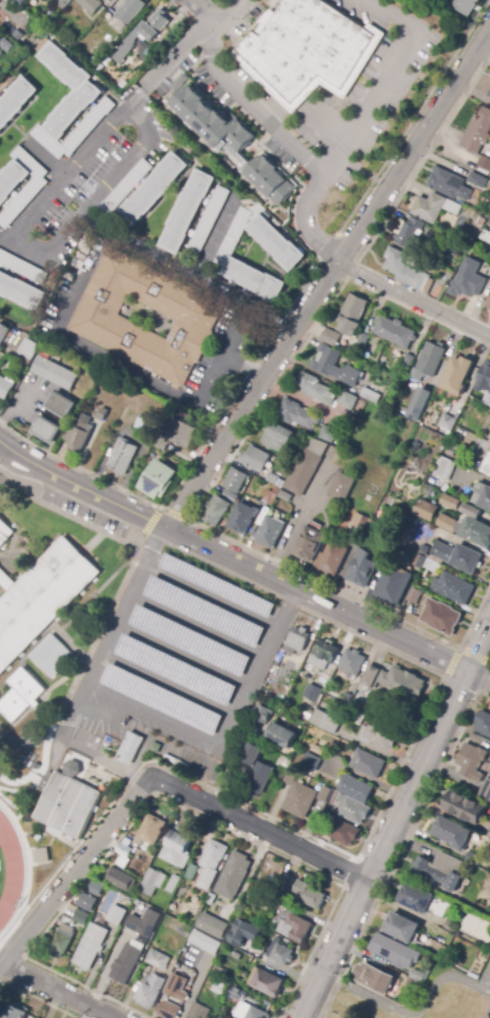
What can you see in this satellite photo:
building: (106, 0)
building: (107, 0)
building: (20, 2)
building: (63, 3)
building: (90, 5)
building: (466, 6)
building: (131, 10)
road: (202, 12)
road: (228, 12)
building: (2, 17)
building: (89, 25)
building: (18, 34)
building: (142, 35)
building: (7, 45)
building: (309, 50)
building: (143, 61)
road: (385, 76)
building: (489, 95)
building: (16, 99)
building: (71, 105)
building: (478, 132)
road: (289, 137)
building: (230, 138)
building: (484, 166)
building: (478, 180)
building: (448, 184)
building: (127, 185)
building: (33, 189)
building: (151, 193)
building: (453, 207)
building: (429, 208)
road: (33, 210)
building: (187, 212)
building: (209, 220)
building: (478, 222)
building: (413, 232)
building: (233, 236)
building: (486, 236)
building: (276, 243)
building: (22, 267)
building: (407, 270)
road: (186, 274)
road: (327, 276)
building: (255, 280)
building: (468, 280)
building: (21, 292)
road: (413, 299)
building: (487, 302)
building: (489, 309)
building: (352, 314)
building: (97, 317)
building: (395, 331)
building: (4, 333)
building: (331, 337)
building: (363, 340)
building: (29, 349)
building: (430, 359)
building: (342, 360)
building: (24, 361)
building: (408, 361)
building: (334, 365)
building: (54, 373)
building: (457, 376)
building: (485, 377)
road: (169, 387)
building: (5, 388)
building: (315, 389)
building: (372, 393)
building: (487, 399)
building: (348, 401)
building: (417, 404)
building: (61, 405)
building: (101, 414)
building: (297, 414)
building: (134, 415)
building: (448, 423)
building: (140, 424)
building: (47, 430)
building: (181, 434)
building: (327, 434)
building: (79, 435)
building: (278, 438)
building: (161, 443)
building: (123, 457)
building: (254, 459)
building: (487, 466)
road: (77, 467)
building: (444, 468)
building: (303, 472)
building: (270, 477)
building: (159, 479)
building: (235, 480)
building: (435, 481)
building: (278, 482)
road: (80, 486)
building: (342, 486)
building: (230, 496)
building: (482, 496)
building: (285, 497)
building: (270, 498)
building: (451, 502)
building: (216, 510)
building: (426, 510)
building: (471, 511)
road: (65, 513)
road: (174, 514)
building: (242, 518)
road: (296, 520)
road: (150, 522)
building: (362, 522)
building: (448, 523)
building: (376, 528)
building: (4, 531)
building: (270, 532)
building: (477, 532)
road: (153, 542)
building: (310, 543)
building: (458, 556)
building: (331, 559)
building: (419, 561)
building: (432, 566)
building: (363, 569)
road: (221, 572)
road: (323, 584)
building: (393, 585)
building: (216, 586)
building: (454, 588)
building: (41, 596)
road: (209, 596)
building: (415, 596)
road: (317, 599)
road: (287, 602)
road: (283, 607)
building: (204, 611)
building: (442, 616)
road: (196, 624)
road: (111, 634)
building: (190, 640)
building: (298, 640)
road: (478, 648)
building: (53, 654)
road: (87, 654)
road: (182, 654)
road: (474, 655)
building: (319, 660)
parking lot: (189, 662)
building: (354, 662)
road: (451, 662)
building: (177, 669)
road: (479, 676)
building: (396, 681)
road: (169, 683)
road: (247, 686)
building: (24, 692)
building: (314, 693)
building: (161, 699)
road: (155, 713)
building: (308, 713)
road: (101, 714)
building: (264, 714)
building: (357, 717)
building: (328, 721)
building: (483, 724)
building: (381, 735)
building: (281, 736)
road: (32, 743)
building: (131, 747)
building: (156, 747)
building: (320, 747)
building: (252, 755)
road: (100, 757)
building: (472, 760)
building: (176, 762)
building: (313, 762)
building: (369, 763)
road: (418, 777)
building: (290, 778)
road: (137, 779)
building: (259, 779)
building: (357, 788)
building: (486, 791)
building: (322, 796)
building: (301, 801)
building: (66, 803)
building: (465, 807)
building: (355, 810)
building: (151, 829)
road: (258, 829)
building: (319, 829)
building: (344, 832)
building: (452, 832)
building: (489, 835)
road: (309, 836)
building: (178, 848)
building: (125, 851)
building: (214, 855)
building: (39, 856)
building: (441, 869)
building: (189, 870)
road: (75, 871)
track: (11, 872)
building: (234, 875)
building: (120, 879)
building: (152, 881)
building: (287, 882)
building: (174, 884)
building: (95, 888)
building: (309, 894)
building: (416, 898)
building: (268, 900)
building: (87, 902)
building: (440, 907)
building: (115, 915)
building: (81, 917)
building: (145, 923)
building: (212, 927)
building: (296, 927)
building: (402, 927)
building: (451, 927)
building: (237, 933)
building: (61, 941)
building: (205, 942)
building: (89, 946)
building: (390, 949)
road: (334, 950)
building: (281, 952)
building: (235, 955)
building: (126, 964)
building: (420, 975)
building: (375, 978)
parking lot: (486, 978)
building: (155, 979)
building: (267, 982)
building: (412, 984)
road: (195, 985)
building: (220, 987)
building: (177, 988)
road: (54, 991)
building: (168, 1010)
building: (200, 1011)
building: (14, 1012)
building: (251, 1012)
road: (413, 1012)

